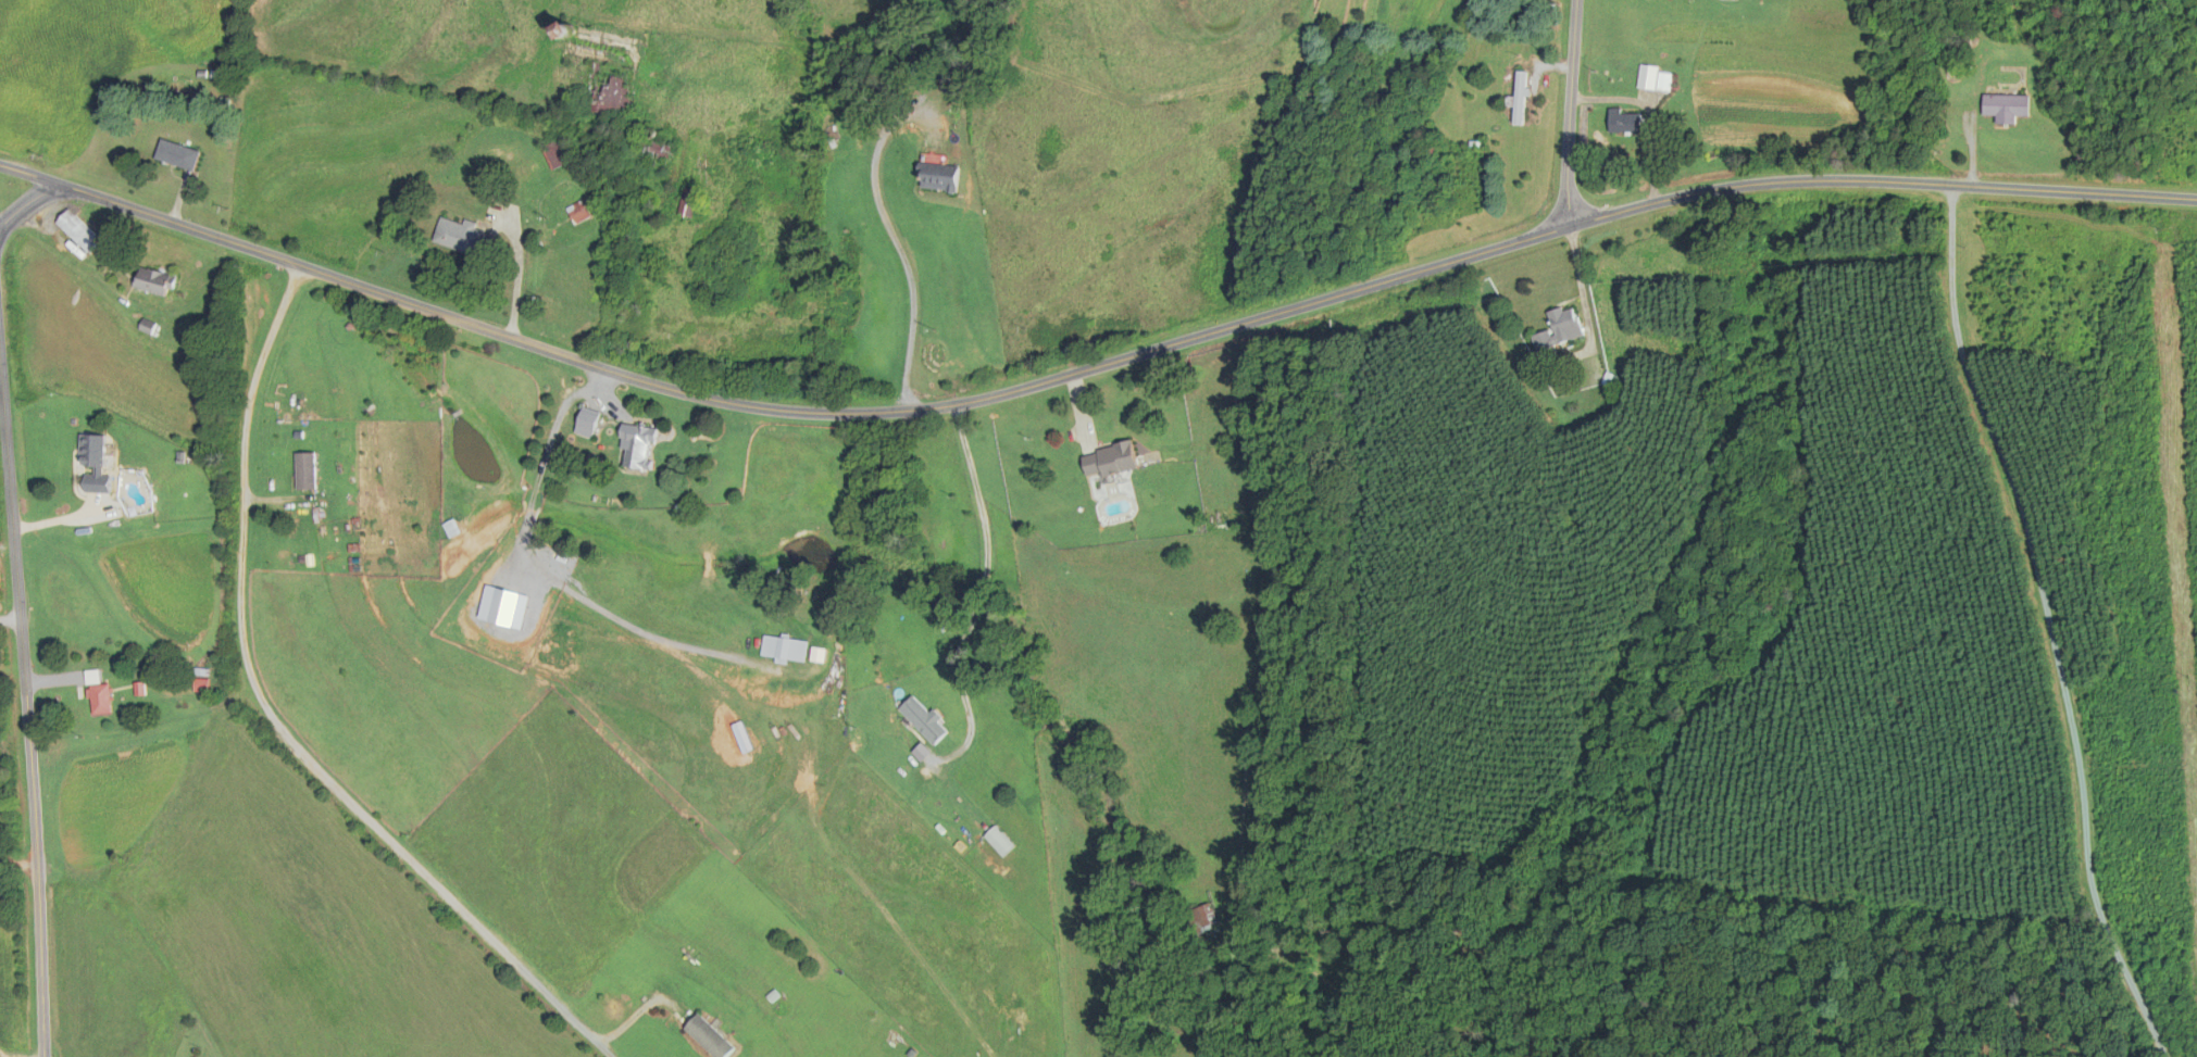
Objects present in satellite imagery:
building: (1955, 68)
building: (1655, 78)
building: (608, 91)
building: (1521, 98)
building: (2007, 105)
road: (1572, 112)
building: (851, 117)
building: (1626, 121)
building: (659, 152)
building: (178, 154)
building: (556, 154)
building: (941, 177)
road: (33, 199)
building: (689, 202)
building: (79, 230)
road: (890, 232)
building: (464, 238)
building: (154, 280)
building: (1561, 328)
road: (1089, 368)
building: (588, 421)
building: (638, 441)
building: (1112, 460)
building: (93, 464)
building: (307, 470)
road: (12, 503)
road: (538, 563)
road: (979, 595)
road: (2037, 619)
building: (785, 649)
building: (202, 680)
building: (99, 694)
building: (925, 720)
road: (270, 723)
building: (999, 841)
road: (36, 860)
road: (17, 863)
building: (1201, 920)
building: (711, 1037)
road: (5, 1054)

